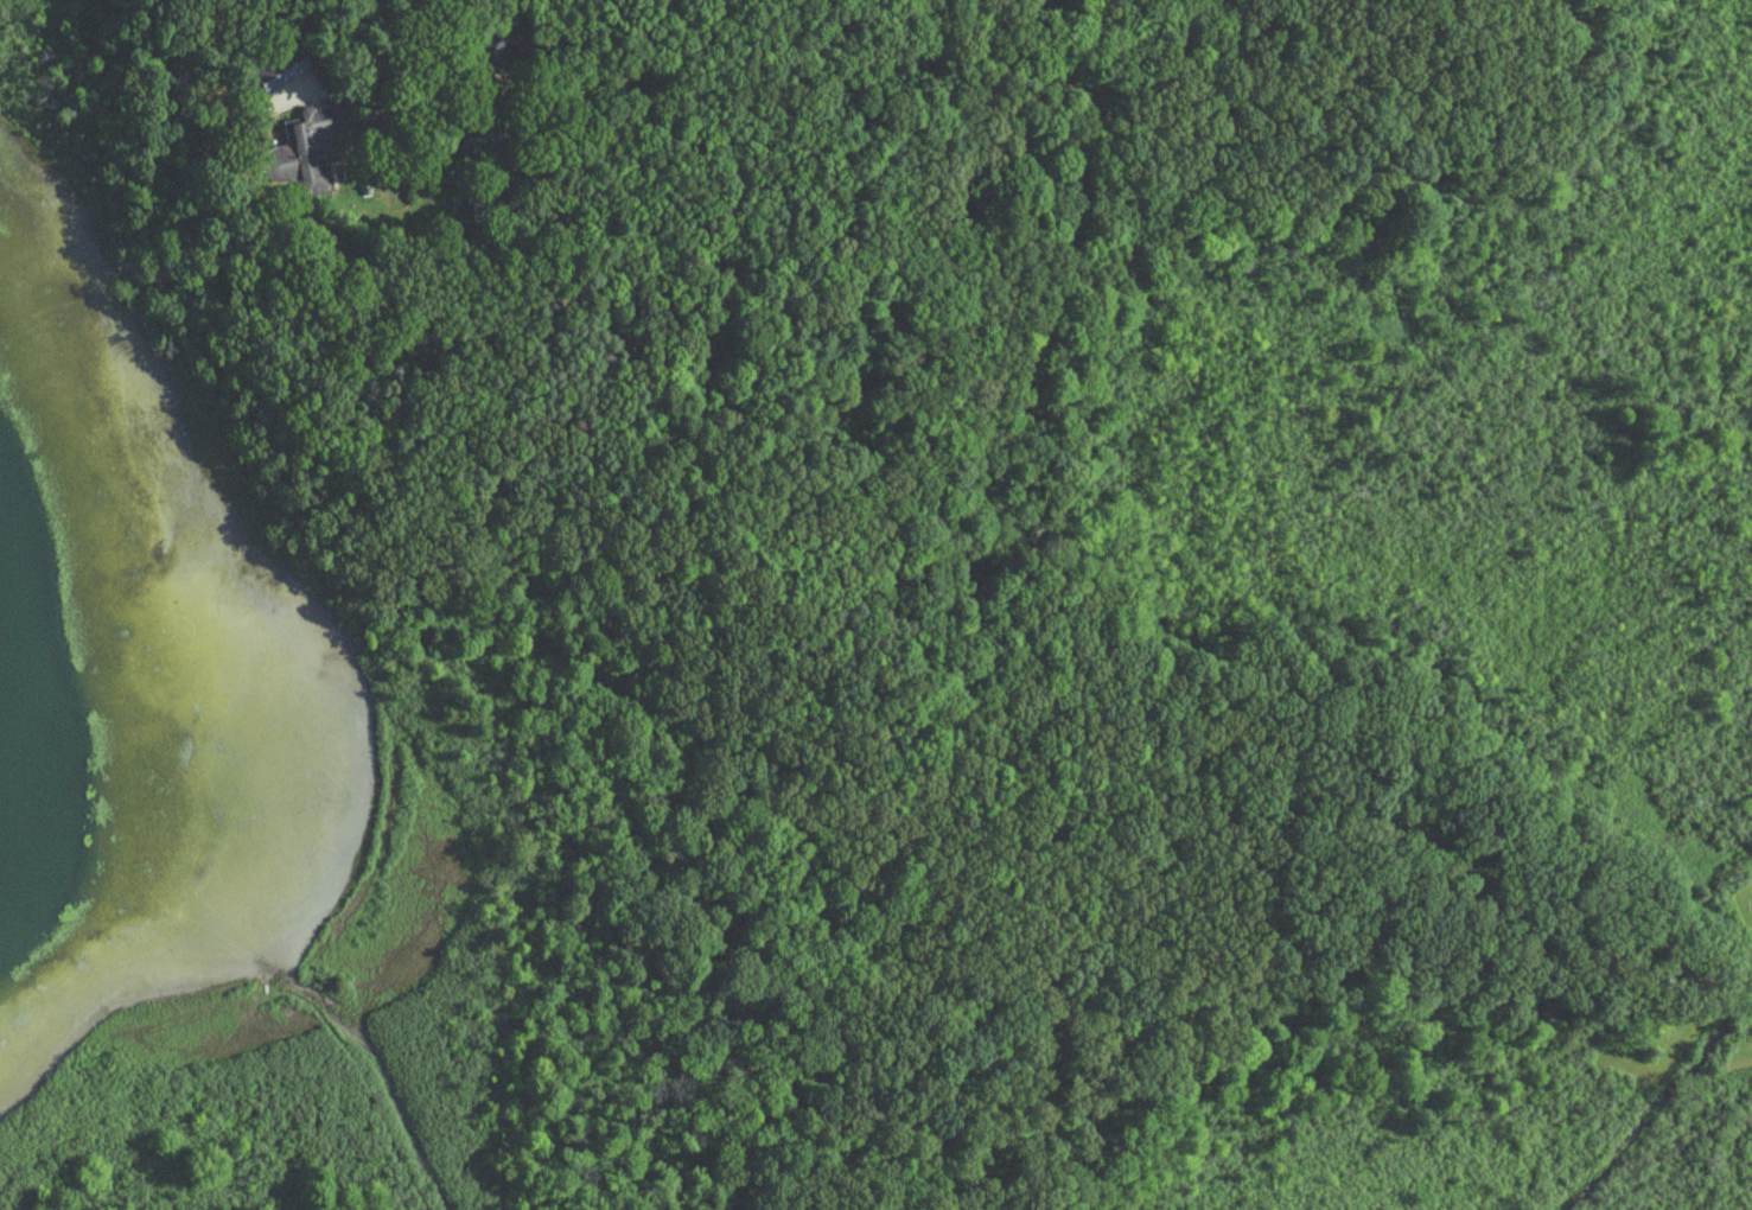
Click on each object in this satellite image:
building: (493, 47)
building: (280, 68)
building: (480, 136)
building: (302, 151)

